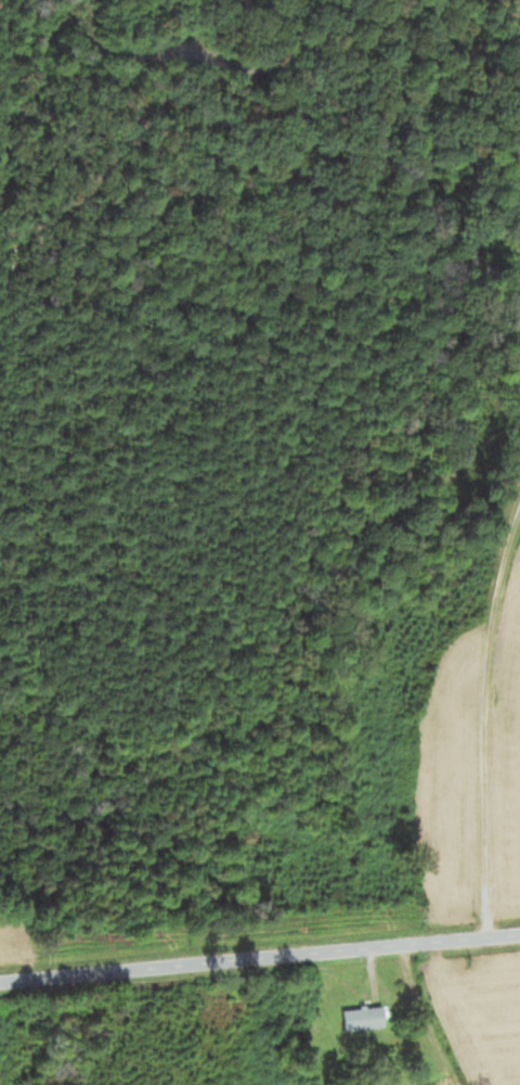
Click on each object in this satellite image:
road: (260, 950)
building: (366, 1019)

